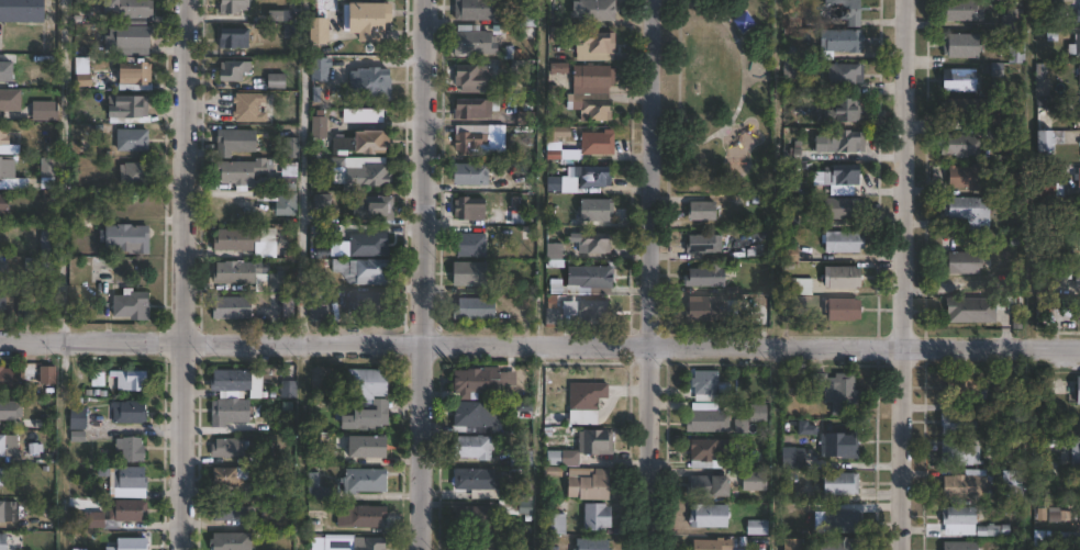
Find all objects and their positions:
building: (231, 5)
building: (105, 8)
building: (1042, 8)
building: (962, 9)
building: (471, 10)
building: (594, 10)
building: (842, 10)
building: (21, 11)
building: (137, 11)
building: (1077, 14)
building: (364, 18)
building: (1010, 18)
building: (315, 30)
building: (134, 36)
building: (231, 37)
building: (469, 41)
building: (838, 42)
building: (592, 45)
building: (959, 45)
building: (1075, 45)
building: (1015, 52)
building: (315, 68)
building: (793, 69)
building: (231, 70)
building: (7, 72)
building: (844, 72)
building: (1078, 74)
building: (137, 76)
building: (469, 77)
building: (590, 79)
building: (958, 79)
building: (274, 80)
building: (368, 82)
building: (1040, 82)
park: (714, 96)
building: (8, 101)
building: (131, 106)
building: (247, 106)
building: (472, 108)
building: (593, 109)
building: (844, 109)
building: (966, 109)
building: (43, 112)
building: (1079, 113)
building: (1010, 122)
building: (316, 126)
building: (81, 128)
building: (555, 133)
building: (3, 138)
building: (1047, 138)
building: (470, 139)
building: (130, 141)
building: (837, 141)
building: (234, 142)
building: (359, 143)
building: (957, 145)
building: (583, 146)
building: (288, 147)
building: (237, 170)
road: (539, 172)
building: (132, 173)
building: (469, 173)
building: (5, 175)
building: (47, 175)
building: (368, 175)
building: (836, 175)
building: (967, 177)
building: (1077, 177)
building: (582, 178)
building: (525, 182)
building: (1013, 182)
building: (1047, 188)
building: (315, 199)
building: (2, 204)
building: (287, 206)
building: (231, 207)
building: (374, 207)
building: (467, 207)
building: (843, 207)
building: (593, 210)
building: (700, 211)
building: (967, 211)
building: (316, 233)
building: (517, 235)
building: (116, 237)
building: (232, 239)
building: (1078, 239)
building: (5, 240)
building: (365, 240)
building: (842, 242)
building: (468, 243)
building: (592, 243)
building: (49, 244)
building: (702, 244)
building: (553, 252)
building: (961, 262)
building: (358, 270)
building: (235, 271)
building: (2, 272)
building: (467, 273)
building: (1069, 273)
road: (181, 274)
road: (423, 274)
road: (652, 274)
road: (899, 274)
building: (594, 277)
building: (703, 277)
building: (840, 278)
building: (275, 281)
building: (798, 287)
building: (366, 302)
building: (129, 305)
building: (287, 305)
building: (40, 307)
building: (229, 307)
building: (1, 308)
building: (22, 308)
building: (469, 308)
building: (703, 308)
building: (840, 308)
building: (969, 310)
building: (315, 312)
building: (592, 312)
building: (76, 316)
road: (539, 346)
building: (47, 375)
building: (8, 379)
building: (124, 379)
building: (476, 381)
building: (226, 382)
building: (703, 382)
building: (364, 383)
building: (1013, 388)
building: (287, 389)
building: (962, 389)
building: (835, 391)
building: (1077, 391)
building: (584, 397)
building: (8, 411)
building: (131, 412)
building: (226, 412)
building: (756, 413)
building: (365, 415)
building: (475, 415)
building: (1012, 415)
building: (80, 417)
building: (705, 422)
building: (957, 423)
building: (804, 428)
building: (593, 442)
building: (838, 445)
building: (8, 446)
building: (367, 447)
building: (134, 448)
building: (226, 448)
building: (471, 448)
building: (709, 453)
building: (958, 453)
building: (1075, 453)
building: (556, 458)
building: (791, 458)
building: (519, 459)
building: (227, 476)
building: (0, 478)
building: (1011, 478)
building: (364, 480)
building: (130, 481)
building: (753, 481)
building: (474, 482)
building: (587, 484)
building: (837, 484)
building: (964, 485)
building: (704, 486)
building: (316, 489)
building: (522, 489)
building: (269, 491)
building: (514, 507)
building: (7, 510)
building: (133, 510)
building: (225, 512)
building: (358, 516)
building: (705, 516)
building: (593, 517)
building: (1079, 517)
building: (97, 519)
building: (474, 519)
building: (958, 520)
building: (839, 521)
building: (553, 524)
building: (756, 527)
building: (993, 530)
building: (4, 541)
building: (226, 541)
building: (134, 543)
building: (315, 543)
building: (366, 543)
building: (591, 543)
building: (788, 543)
building: (711, 545)
building: (835, 545)
building: (959, 546)
building: (78, 549)

